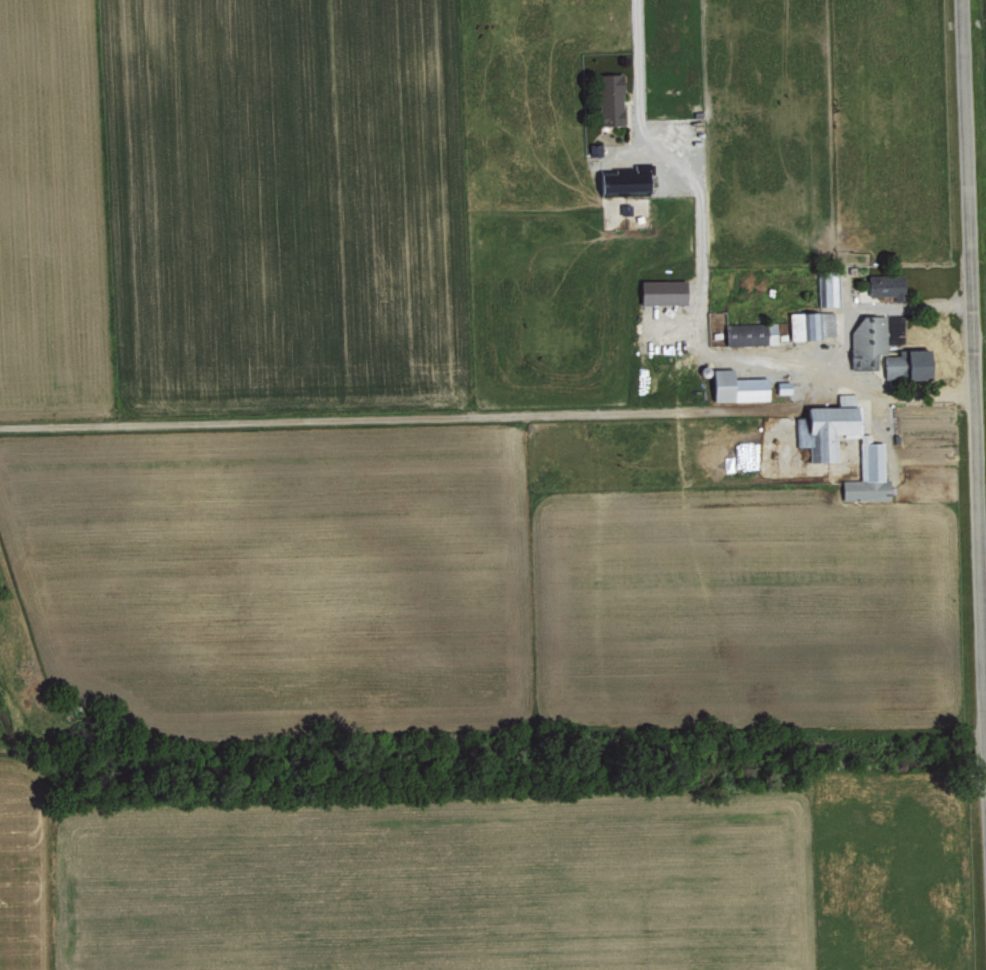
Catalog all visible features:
building: (612, 99)
building: (624, 183)
road: (691, 233)
building: (887, 285)
building: (829, 288)
building: (663, 292)
building: (812, 325)
building: (751, 333)
building: (869, 339)
road: (970, 359)
road: (832, 360)
building: (909, 365)
building: (737, 387)
building: (822, 447)

